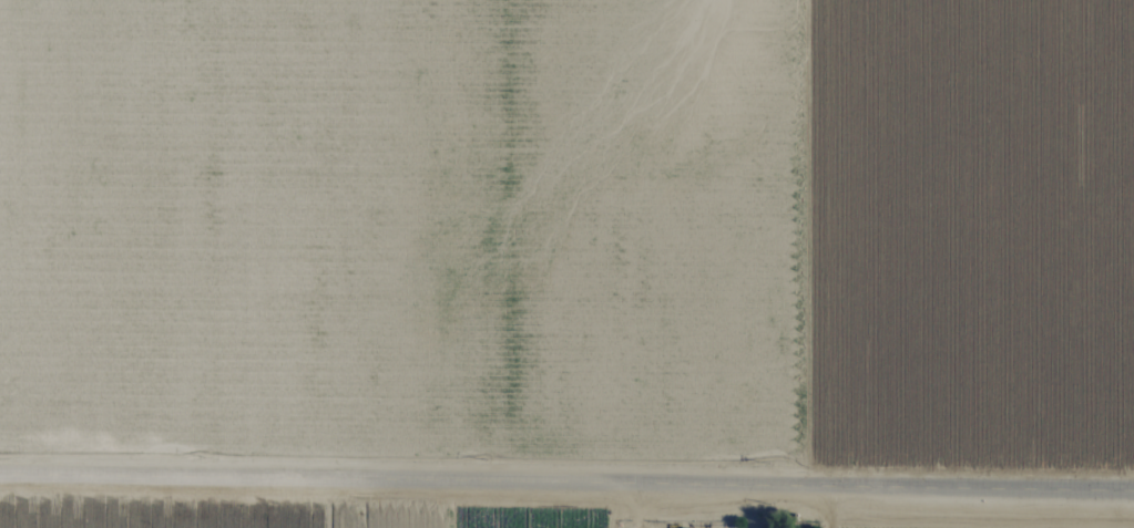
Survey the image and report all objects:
road: (566, 480)

